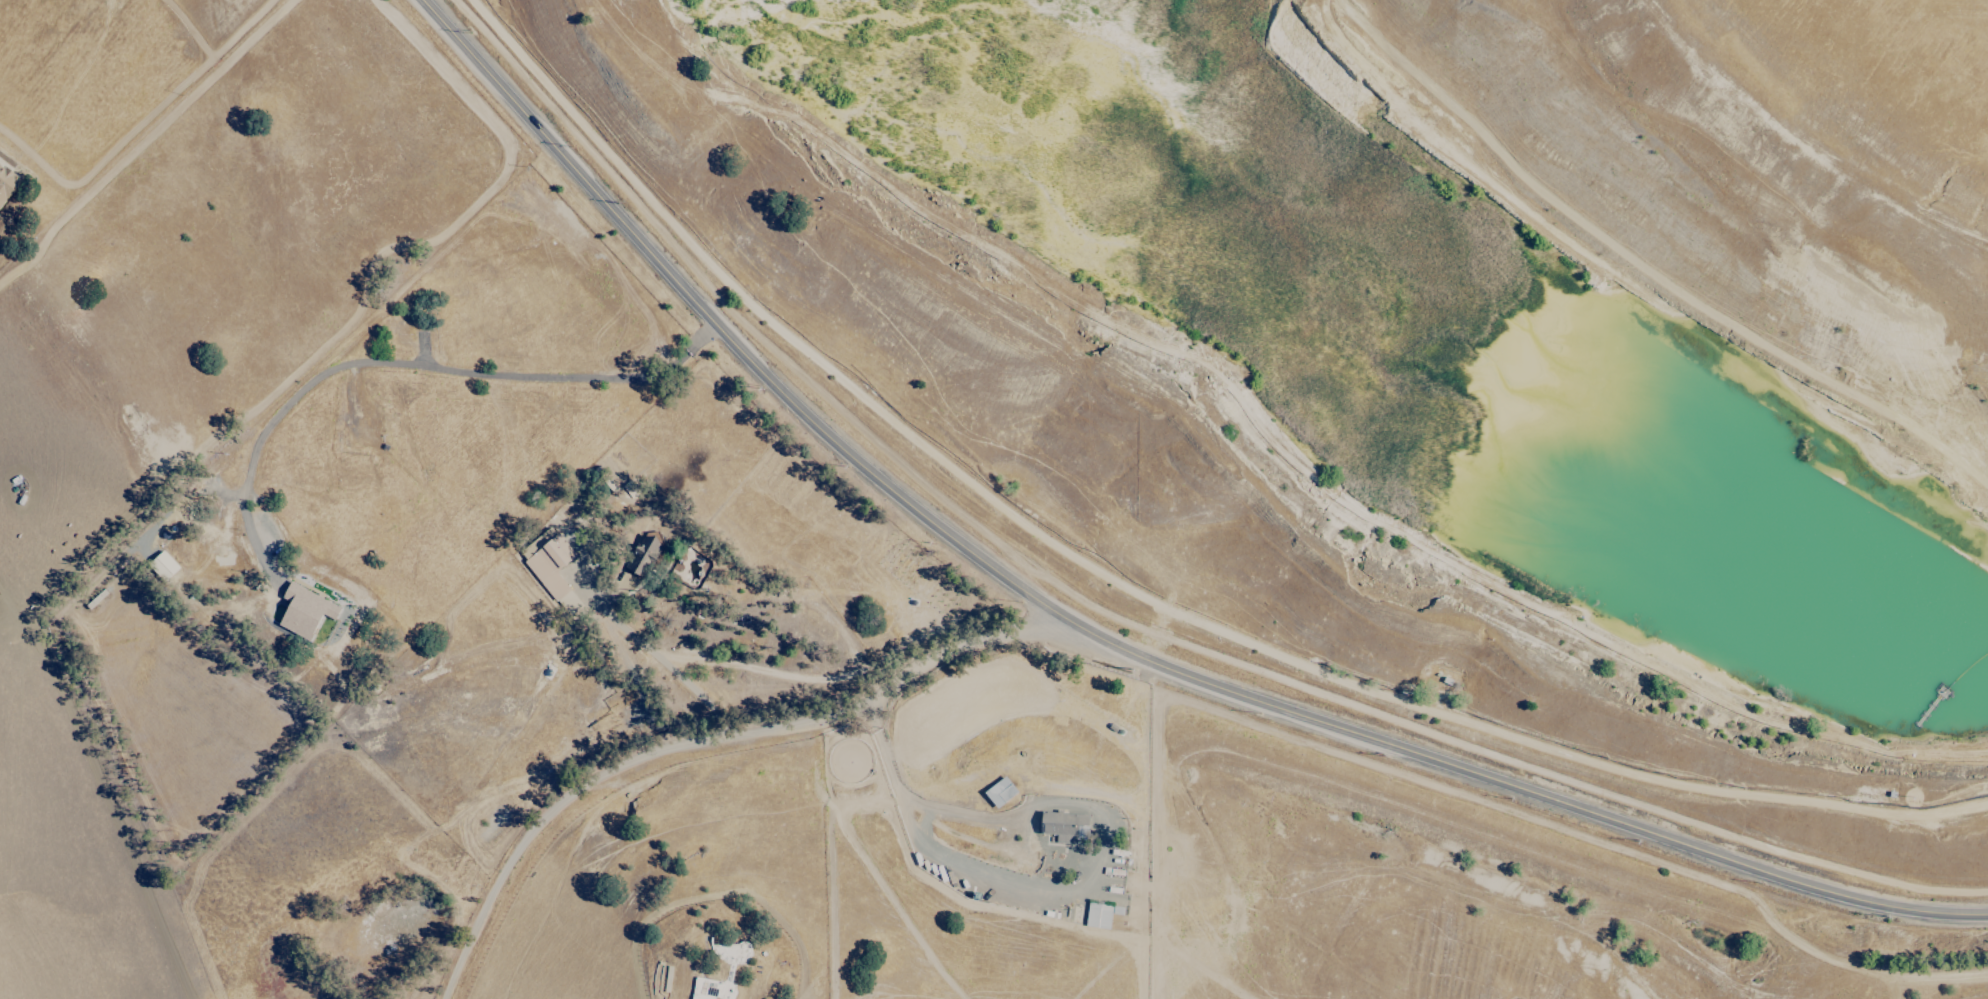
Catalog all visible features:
crop: (1961, 25)
building: (5, 181)
road: (453, 370)
building: (644, 554)
building: (550, 562)
building: (163, 565)
building: (570, 602)
building: (305, 610)
road: (1097, 640)
road: (660, 657)
road: (701, 737)
road: (885, 749)
building: (1000, 792)
road: (952, 812)
road: (1099, 818)
building: (1065, 825)
road: (1041, 852)
road: (956, 874)
building: (1098, 915)

